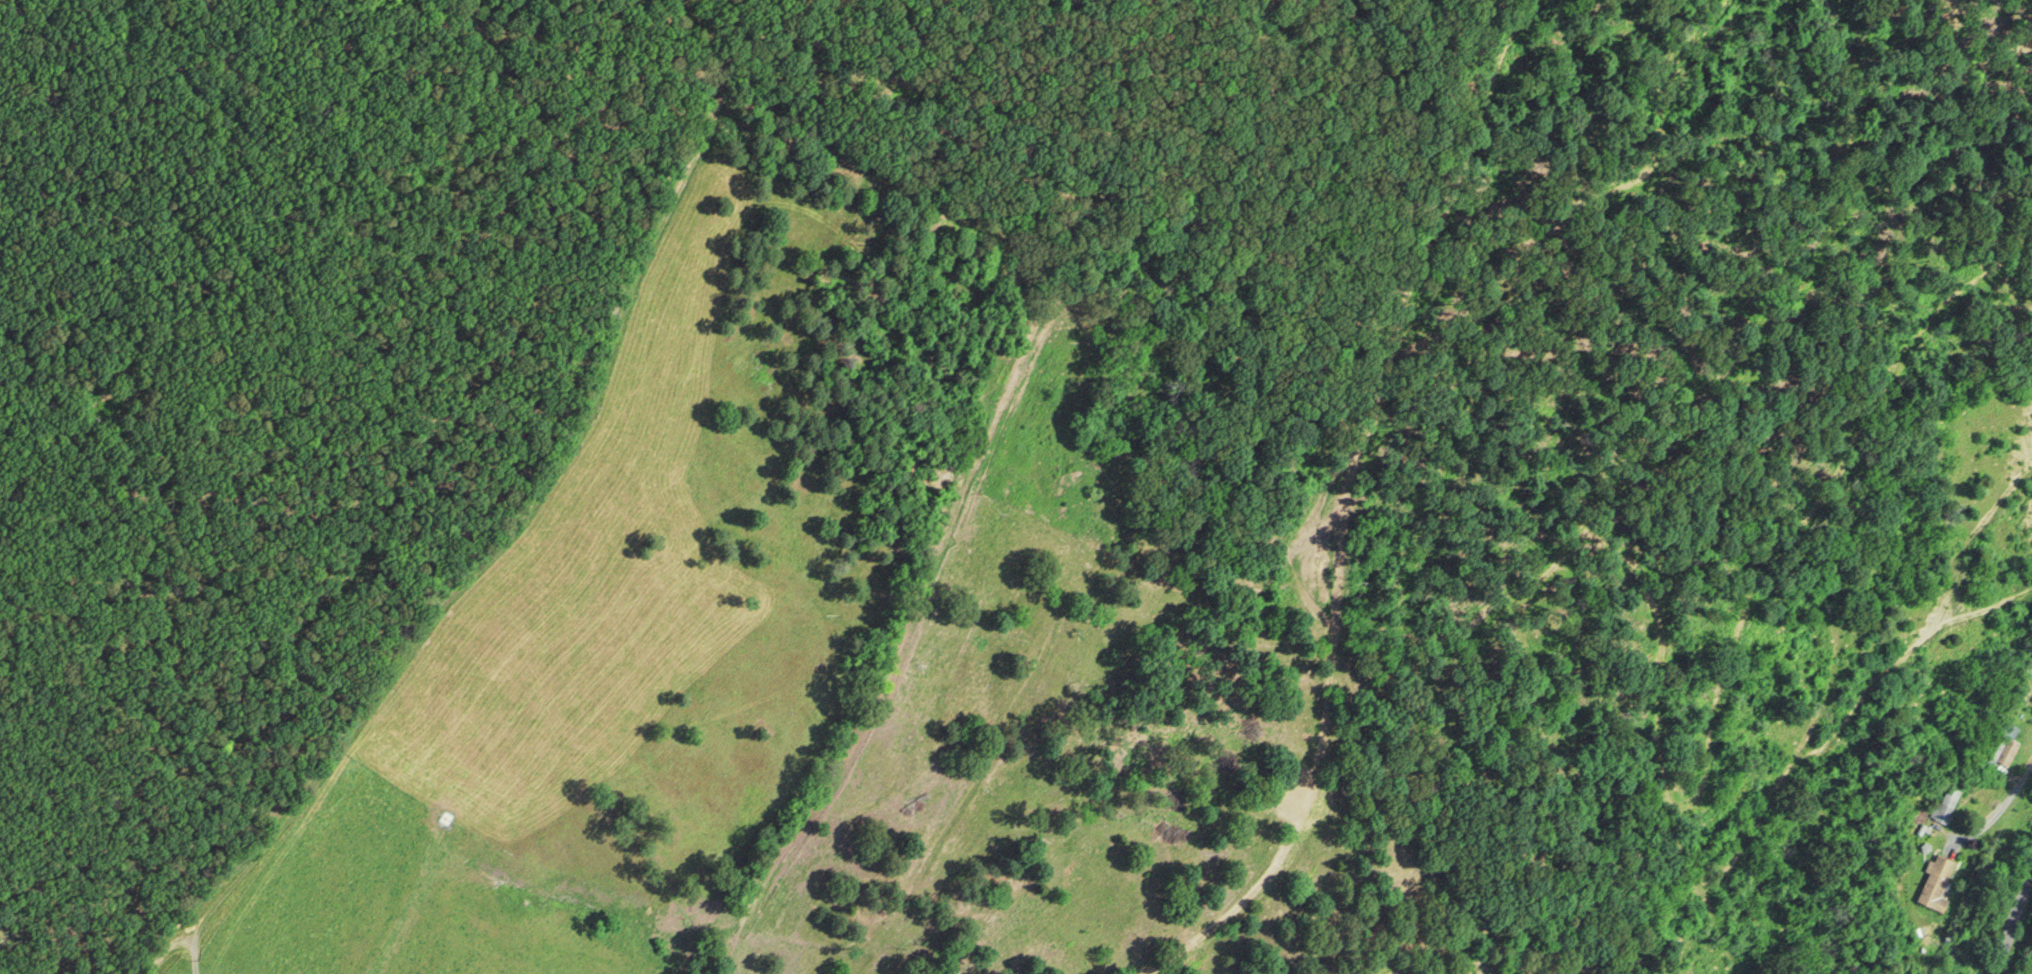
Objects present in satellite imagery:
building: (2005, 750)
building: (1949, 804)
building: (1938, 881)
road: (2016, 925)

